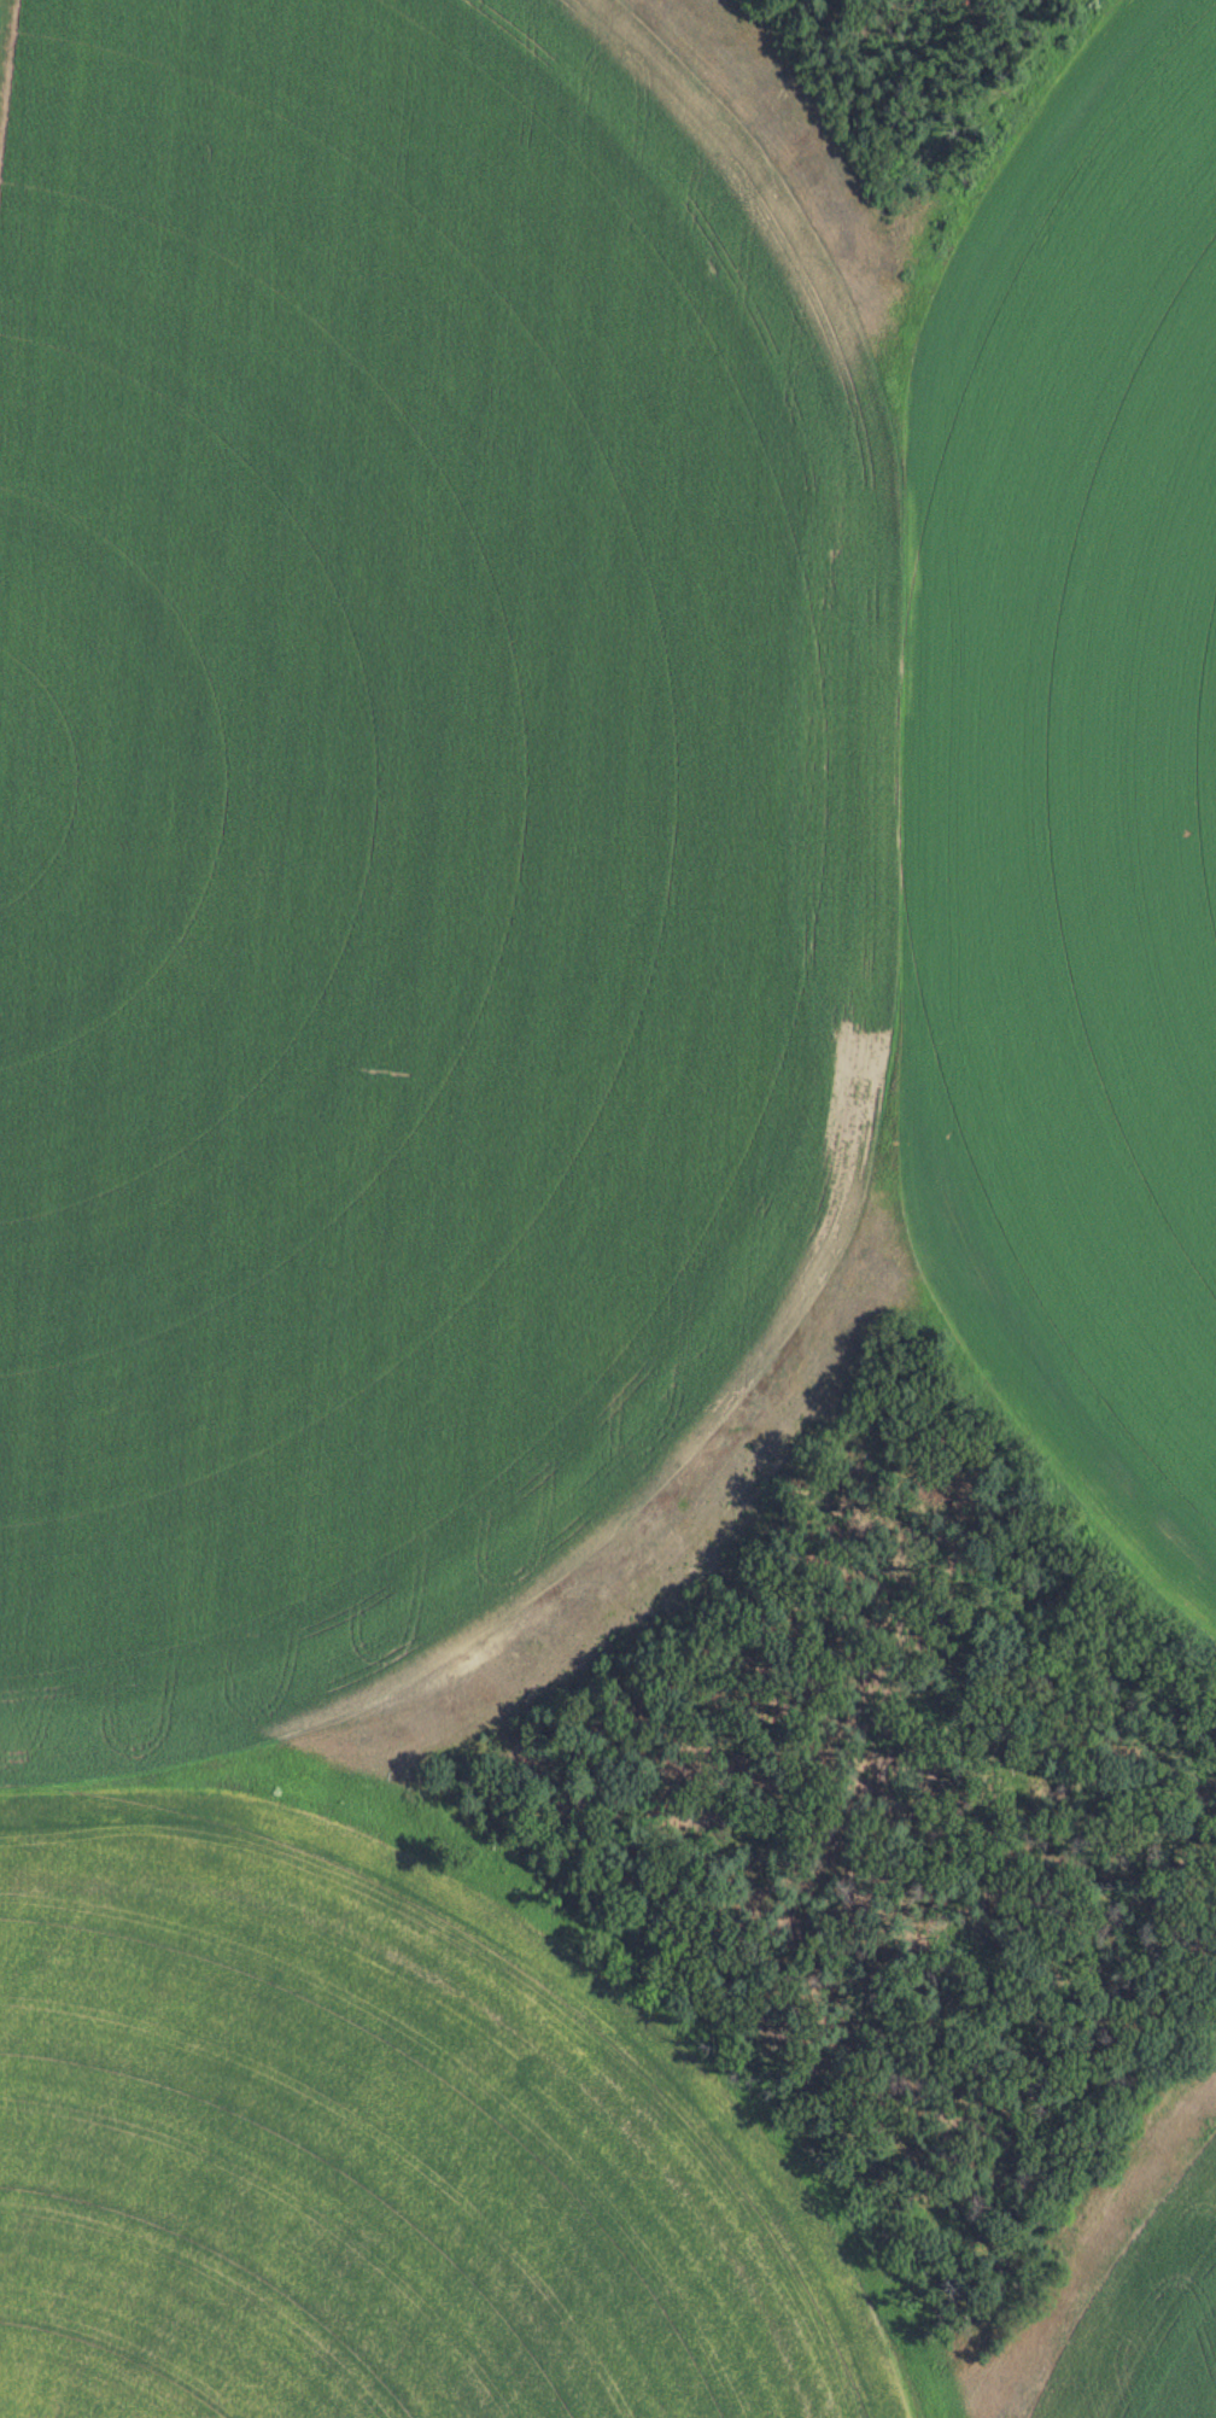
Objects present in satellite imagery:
wastewater plant: (608, 1209)

